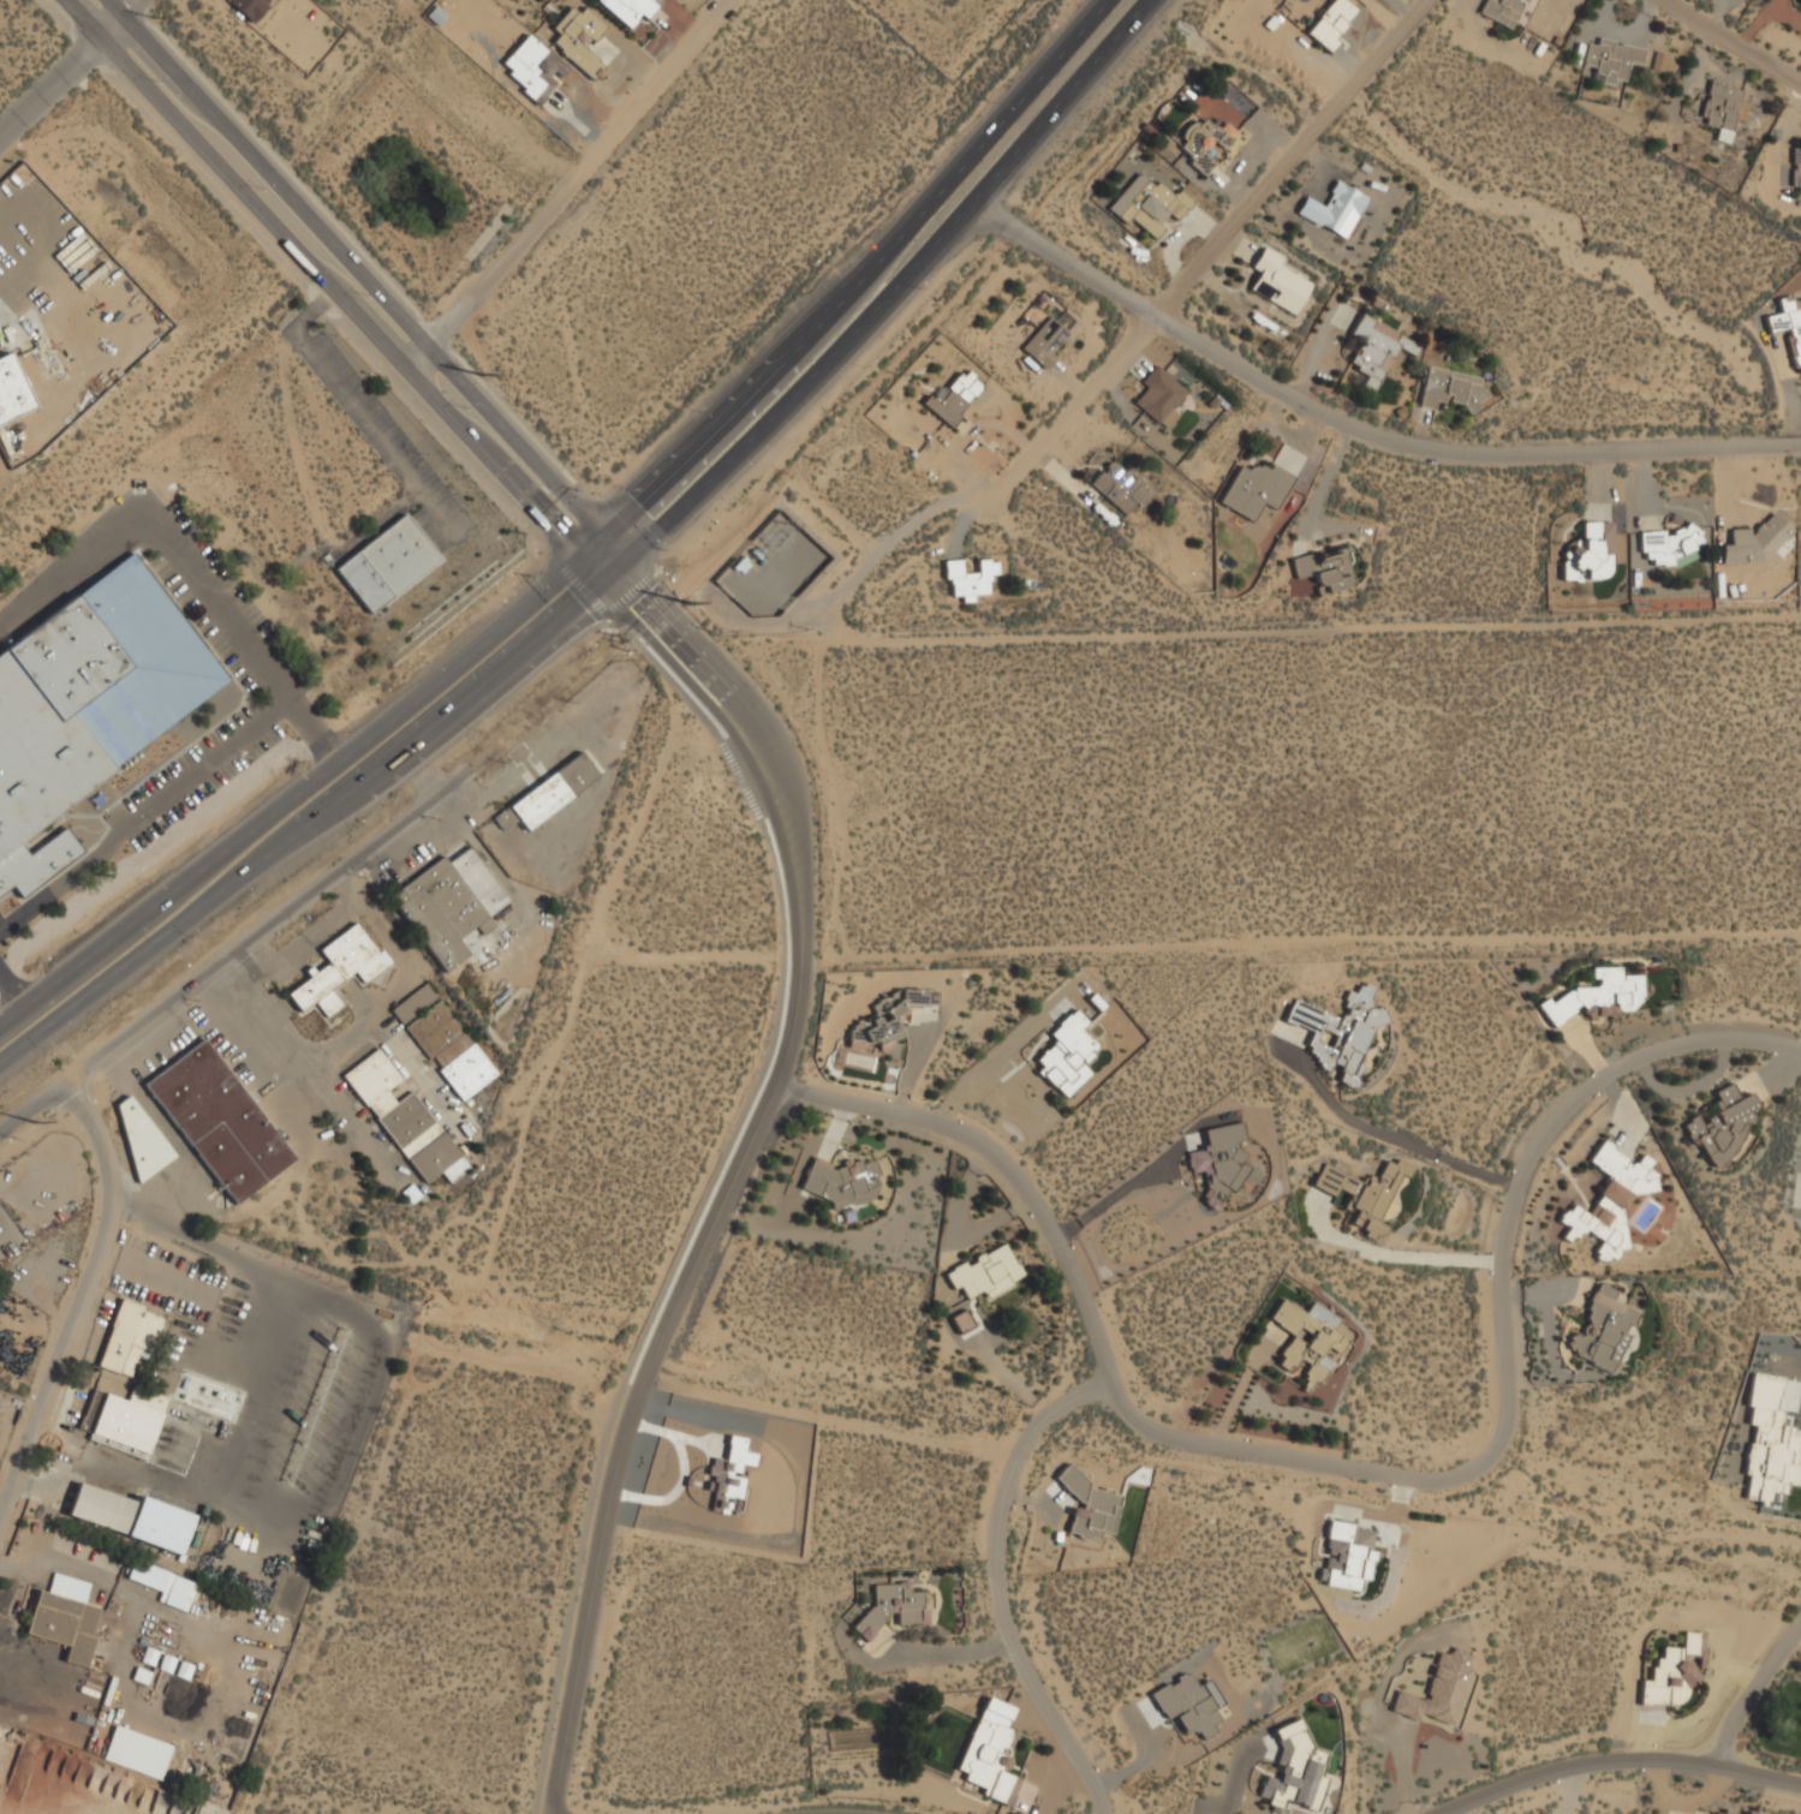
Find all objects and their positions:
building: (250, 7)
building: (630, 10)
building: (1504, 10)
power tower: (151, 17)
road: (125, 22)
building: (1332, 22)
road: (1746, 32)
building: (580, 38)
building: (1612, 60)
road: (52, 90)
building: (1724, 109)
building: (1205, 142)
building: (1796, 171)
road: (569, 184)
building: (1150, 204)
building: (1335, 209)
road: (1354, 239)
road: (1581, 247)
road: (1204, 253)
road: (847, 268)
road: (365, 276)
road: (883, 281)
building: (1280, 281)
road: (332, 286)
road: (323, 302)
building: (1789, 323)
building: (1048, 342)
building: (1377, 348)
power tower: (481, 377)
building: (1451, 388)
building: (12, 390)
building: (955, 395)
building: (1161, 396)
street lamp: (465, 406)
street lamp: (700, 411)
road: (1355, 418)
street lamp: (625, 487)
building: (1121, 488)
building: (1256, 488)
traffic signals: (596, 531)
building: (1757, 541)
road: (163, 543)
building: (1668, 544)
street lamp: (663, 549)
traffic signals: (577, 550)
building: (1590, 553)
traffic signals: (619, 555)
building: (387, 562)
street lamp: (215, 568)
power substation: (770, 568)
building: (1325, 571)
street lamp: (529, 574)
traffic signals: (597, 575)
building: (971, 578)
power tower: (690, 603)
street lamp: (263, 633)
street lamp: (588, 649)
street lamp: (430, 663)
building: (89, 706)
road: (765, 727)
road: (449, 729)
street lamp: (482, 730)
road: (735, 739)
street lamp: (244, 753)
street lamp: (293, 770)
road: (303, 786)
road: (171, 793)
building: (550, 793)
road: (315, 817)
street lamp: (159, 819)
street lamp: (360, 827)
street lamp: (153, 881)
building: (449, 903)
road: (1300, 935)
street lamp: (195, 936)
road: (708, 945)
building: (338, 969)
road: (205, 973)
building: (1598, 995)
road: (10, 998)
building: (887, 1019)
building: (1336, 1036)
road: (288, 1037)
building: (445, 1040)
street lamp: (48, 1049)
building: (1067, 1054)
building: (405, 1120)
building: (217, 1121)
power tower: (35, 1122)
building: (1724, 1126)
building: (141, 1141)
building: (1219, 1162)
building: (842, 1181)
road: (706, 1189)
building: (1370, 1194)
building: (1611, 1200)
road: (93, 1255)
road: (1396, 1255)
building: (986, 1272)
building: (1603, 1329)
building: (129, 1338)
building: (1312, 1341)
road: (650, 1371)
road: (1245, 1383)
road: (317, 1400)
building: (123, 1421)
road: (56, 1442)
building: (1769, 1443)
road: (24, 1457)
road: (1353, 1461)
road: (58, 1473)
building: (728, 1475)
road: (7, 1504)
building: (1089, 1505)
building: (130, 1516)
building: (1348, 1557)
road: (996, 1579)
building: (163, 1585)
building: (893, 1607)
building: (65, 1617)
road: (948, 1653)
building: (1676, 1672)
road: (1749, 1683)
building: (1438, 1690)
building: (1189, 1705)
building: (136, 1752)
road: (1606, 1754)
building: (988, 1760)
building: (1293, 1771)
road: (822, 1810)
building: (1723, 1813)

